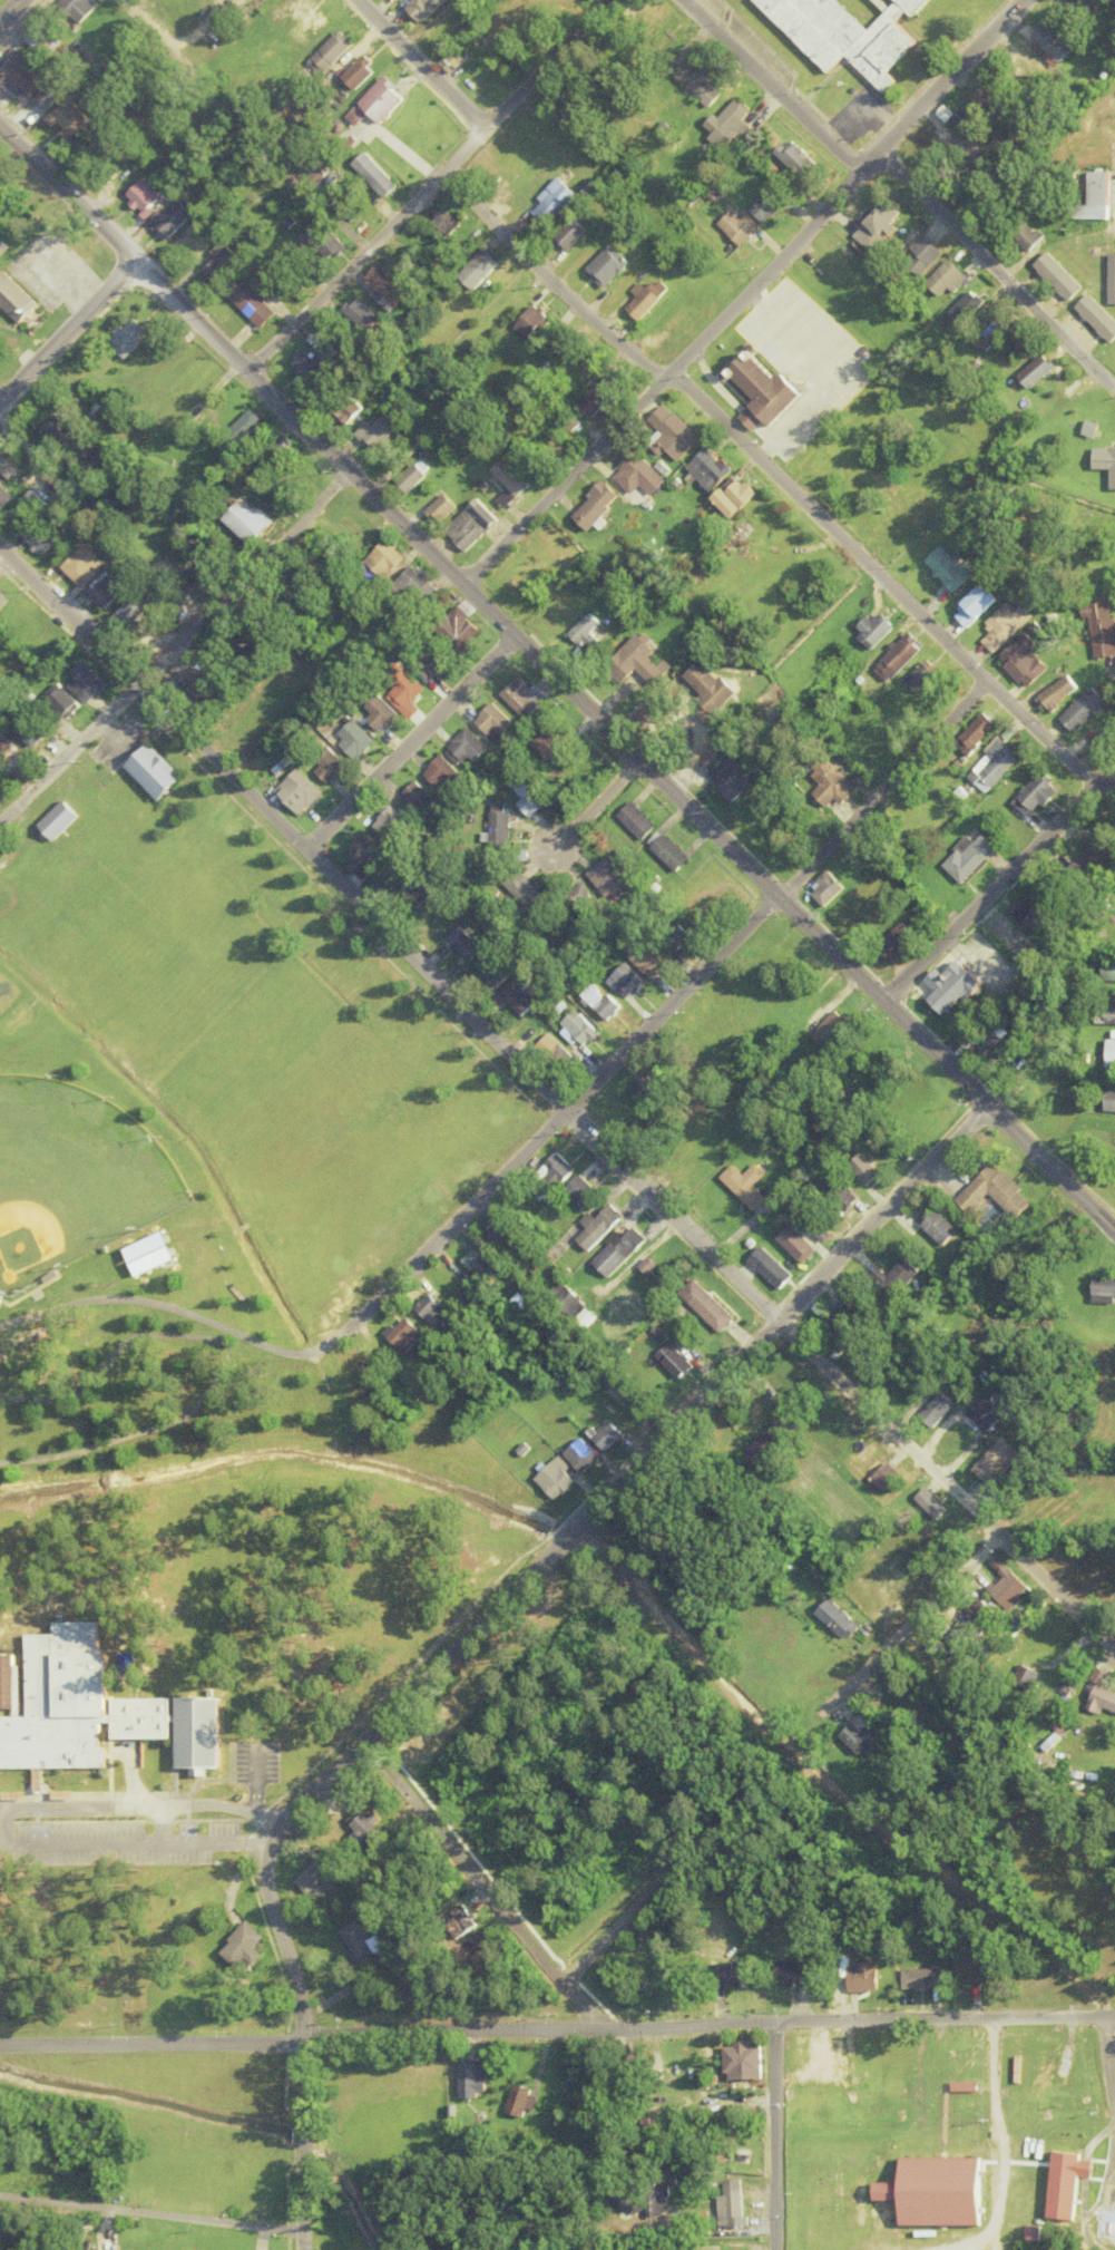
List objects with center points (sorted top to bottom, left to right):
building: (561, 7)
building: (1080, 7)
road: (8, 8)
building: (426, 8)
building: (76, 9)
building: (300, 22)
building: (848, 35)
building: (446, 36)
building: (43, 39)
building: (1052, 47)
building: (331, 53)
building: (454, 61)
road: (420, 64)
building: (487, 71)
building: (362, 72)
building: (22, 74)
building: (700, 86)
road: (769, 86)
building: (383, 100)
building: (991, 106)
building: (71, 123)
building: (967, 123)
building: (730, 125)
building: (100, 150)
building: (801, 160)
building: (1102, 164)
building: (375, 175)
road: (429, 186)
road: (67, 193)
building: (144, 197)
building: (555, 201)
building: (770, 205)
building: (883, 218)
building: (174, 220)
building: (443, 220)
building: (741, 227)
building: (574, 234)
building: (1028, 237)
building: (327, 244)
building: (920, 255)
building: (223, 265)
building: (608, 267)
building: (481, 269)
road: (995, 271)
building: (1060, 277)
road: (550, 280)
building: (946, 280)
building: (388, 285)
building: (1113, 286)
road: (746, 293)
building: (648, 298)
building: (14, 300)
building: (252, 305)
building: (965, 310)
building: (360, 314)
building: (1098, 318)
building: (534, 323)
road: (67, 330)
building: (128, 338)
building: (1035, 371)
building: (765, 393)
building: (600, 397)
building: (356, 407)
road: (296, 421)
building: (56, 426)
building: (245, 427)
building: (1087, 429)
building: (376, 431)
building: (673, 434)
building: (91, 447)
building: (274, 448)
building: (814, 460)
building: (1104, 464)
building: (8, 468)
building: (711, 469)
building: (301, 474)
building: (639, 476)
building: (411, 478)
building: (510, 483)
building: (56, 484)
building: (3, 497)
building: (737, 497)
building: (900, 499)
building: (42, 505)
building: (597, 506)
building: (443, 508)
building: (248, 520)
building: (354, 522)
building: (472, 524)
building: (38, 536)
building: (375, 536)
building: (385, 558)
building: (87, 564)
building: (949, 568)
road: (882, 581)
building: (417, 584)
building: (108, 592)
building: (2, 602)
building: (979, 606)
building: (134, 610)
building: (1007, 626)
building: (463, 627)
building: (1101, 629)
building: (874, 630)
building: (585, 633)
road: (175, 649)
building: (901, 656)
building: (645, 660)
building: (1027, 662)
building: (432, 665)
building: (925, 681)
building: (87, 684)
building: (710, 685)
building: (408, 690)
building: (1060, 693)
building: (521, 695)
building: (63, 701)
building: (1086, 709)
building: (382, 712)
building: (496, 721)
building: (981, 733)
building: (36, 739)
building: (356, 739)
building: (552, 741)
road: (410, 743)
building: (470, 746)
building: (11, 752)
building: (331, 766)
building: (996, 766)
building: (158, 772)
building: (444, 773)
building: (800, 773)
building: (736, 779)
building: (840, 787)
building: (302, 791)
building: (1039, 795)
building: (535, 797)
building: (420, 800)
road: (597, 803)
building: (639, 821)
building: (393, 822)
building: (501, 826)
building: (673, 854)
building: (368, 856)
building: (1095, 856)
building: (970, 858)
building: (613, 880)
road: (998, 884)
building: (830, 889)
building: (528, 893)
building: (578, 895)
road: (789, 904)
building: (1035, 907)
building: (440, 909)
building: (900, 938)
building: (467, 944)
building: (654, 960)
building: (1108, 972)
building: (498, 974)
building: (629, 981)
building: (953, 987)
park: (7, 995)
building: (525, 995)
building: (604, 1002)
road: (677, 1003)
building: (1104, 1014)
building: (584, 1029)
building: (834, 1029)
building: (984, 1040)
building: (559, 1052)
building: (1111, 1054)
building: (649, 1090)
road: (555, 1100)
building: (1111, 1101)
park: (200, 1124)
building: (869, 1170)
building: (561, 1171)
park: (74, 1178)
building: (752, 1185)
building: (588, 1192)
building: (998, 1194)
building: (847, 1195)
building: (819, 1225)
building: (605, 1227)
building: (942, 1228)
building: (511, 1238)
building: (802, 1244)
building: (625, 1251)
building: (488, 1263)
building: (775, 1268)
building: (902, 1277)
building: (1106, 1289)
building: (864, 1302)
building: (583, 1305)
building: (711, 1306)
building: (441, 1311)
road: (188, 1315)
building: (834, 1324)
building: (415, 1336)
road: (110, 1350)
building: (678, 1362)
building: (949, 1382)
building: (628, 1402)
building: (988, 1421)
road: (143, 1428)
building: (609, 1436)
building: (767, 1449)
building: (586, 1455)
building: (994, 1464)
road: (630, 1473)
building: (884, 1478)
building: (560, 1479)
building: (929, 1503)
building: (909, 1570)
building: (1009, 1586)
building: (977, 1607)
building: (844, 1620)
road: (910, 1623)
building: (942, 1657)
building: (1030, 1678)
building: (6, 1683)
building: (903, 1687)
building: (60, 1701)
building: (1103, 1701)
building: (141, 1720)
building: (197, 1733)
building: (864, 1736)
road: (255, 1790)
parking lot: (140, 1819)
building: (368, 1824)
road: (242, 1825)
road: (256, 1833)
building: (320, 1878)
road: (481, 1886)
building: (464, 1923)
road: (617, 1926)
building: (361, 1944)
building: (243, 1947)
building: (480, 1947)
building: (792, 1970)
building: (737, 1974)
building: (966, 1975)
building: (860, 1978)
building: (921, 1979)
building: (676, 1984)
road: (942, 2020)
road: (383, 2029)
road: (301, 2042)
road: (1109, 2059)
building: (743, 2061)
building: (822, 2061)
building: (1062, 2069)
building: (473, 2079)
building: (524, 2102)
road: (771, 2136)
road: (1000, 2149)
building: (1073, 2184)
building: (640, 2200)
building: (731, 2204)
road: (150, 2215)
building: (1108, 2223)
building: (6, 2237)
building: (696, 2249)

